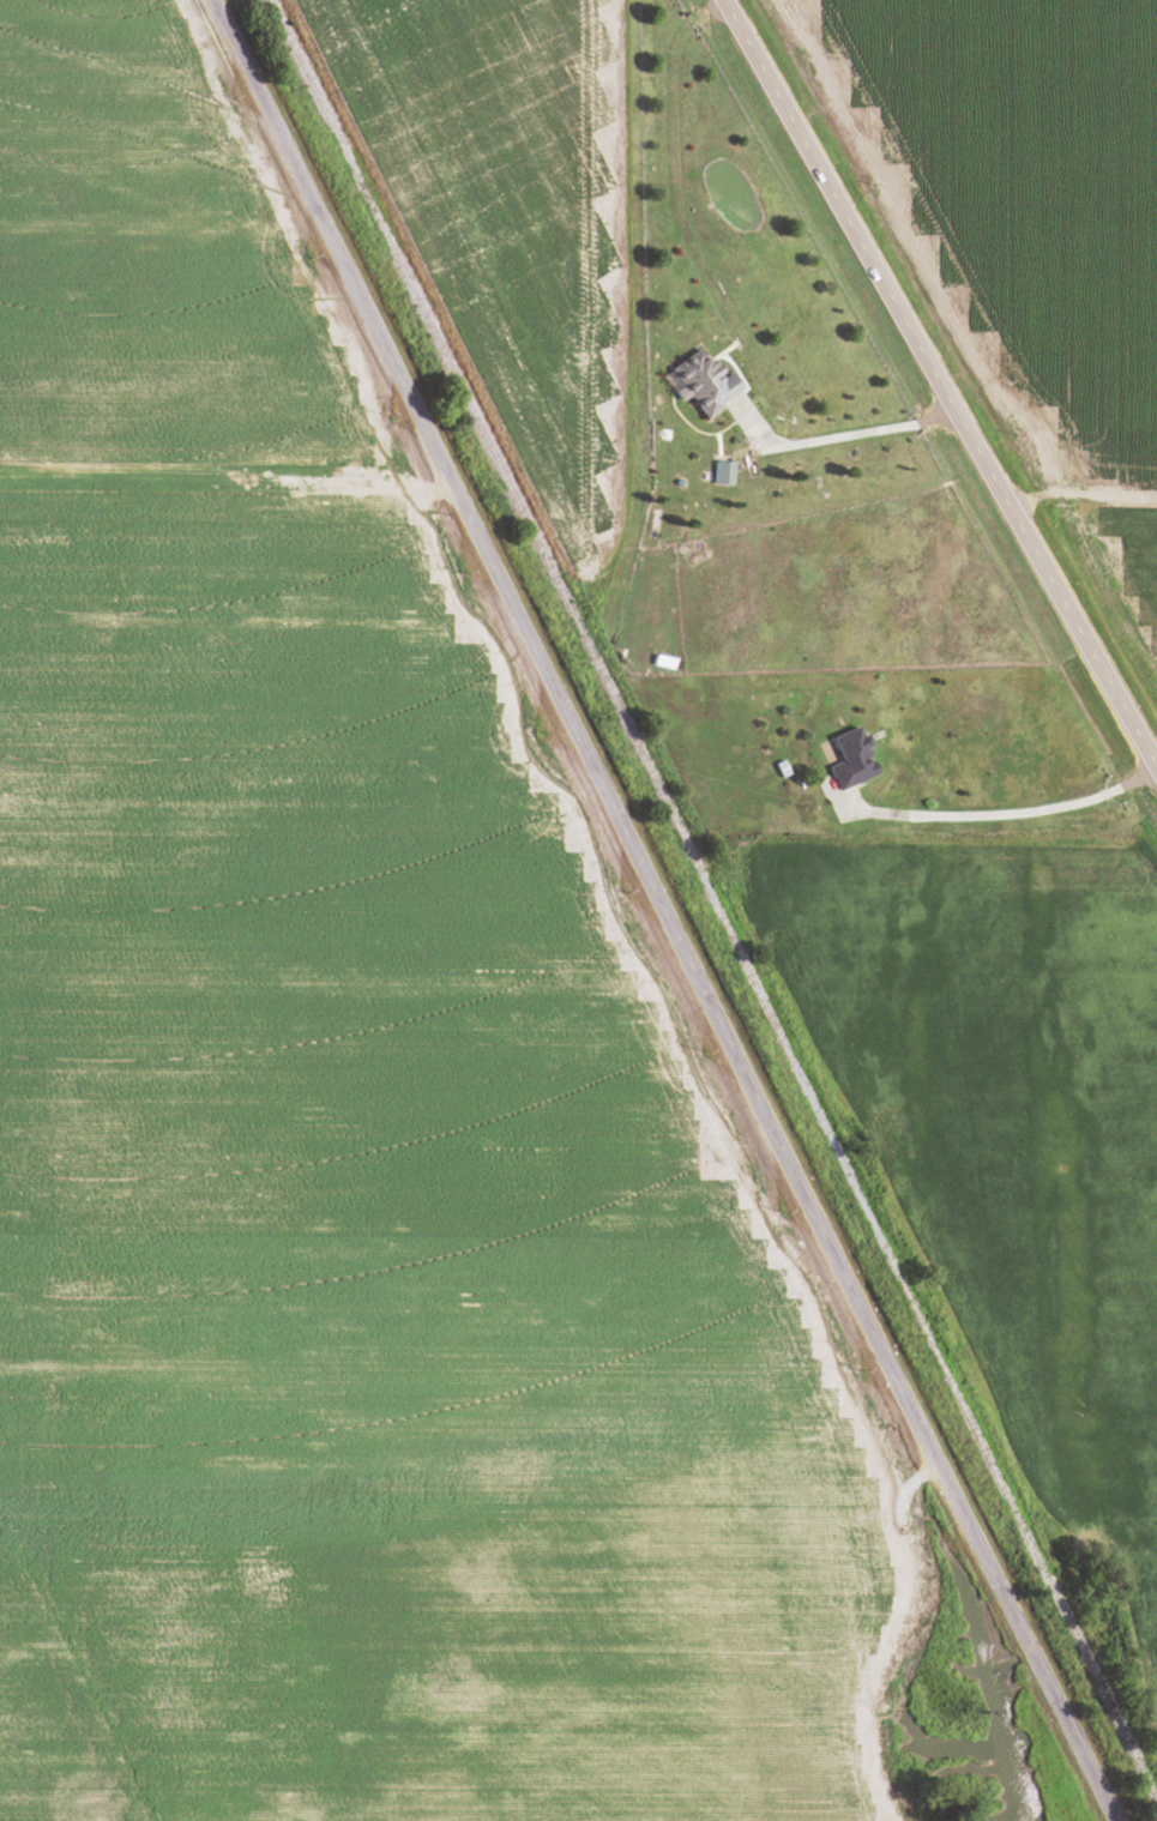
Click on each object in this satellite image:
road: (652, 230)
building: (707, 380)
road: (938, 388)
building: (725, 472)
road: (224, 493)
road: (1077, 493)
building: (668, 662)
building: (855, 758)
railway: (715, 899)
road: (661, 910)

